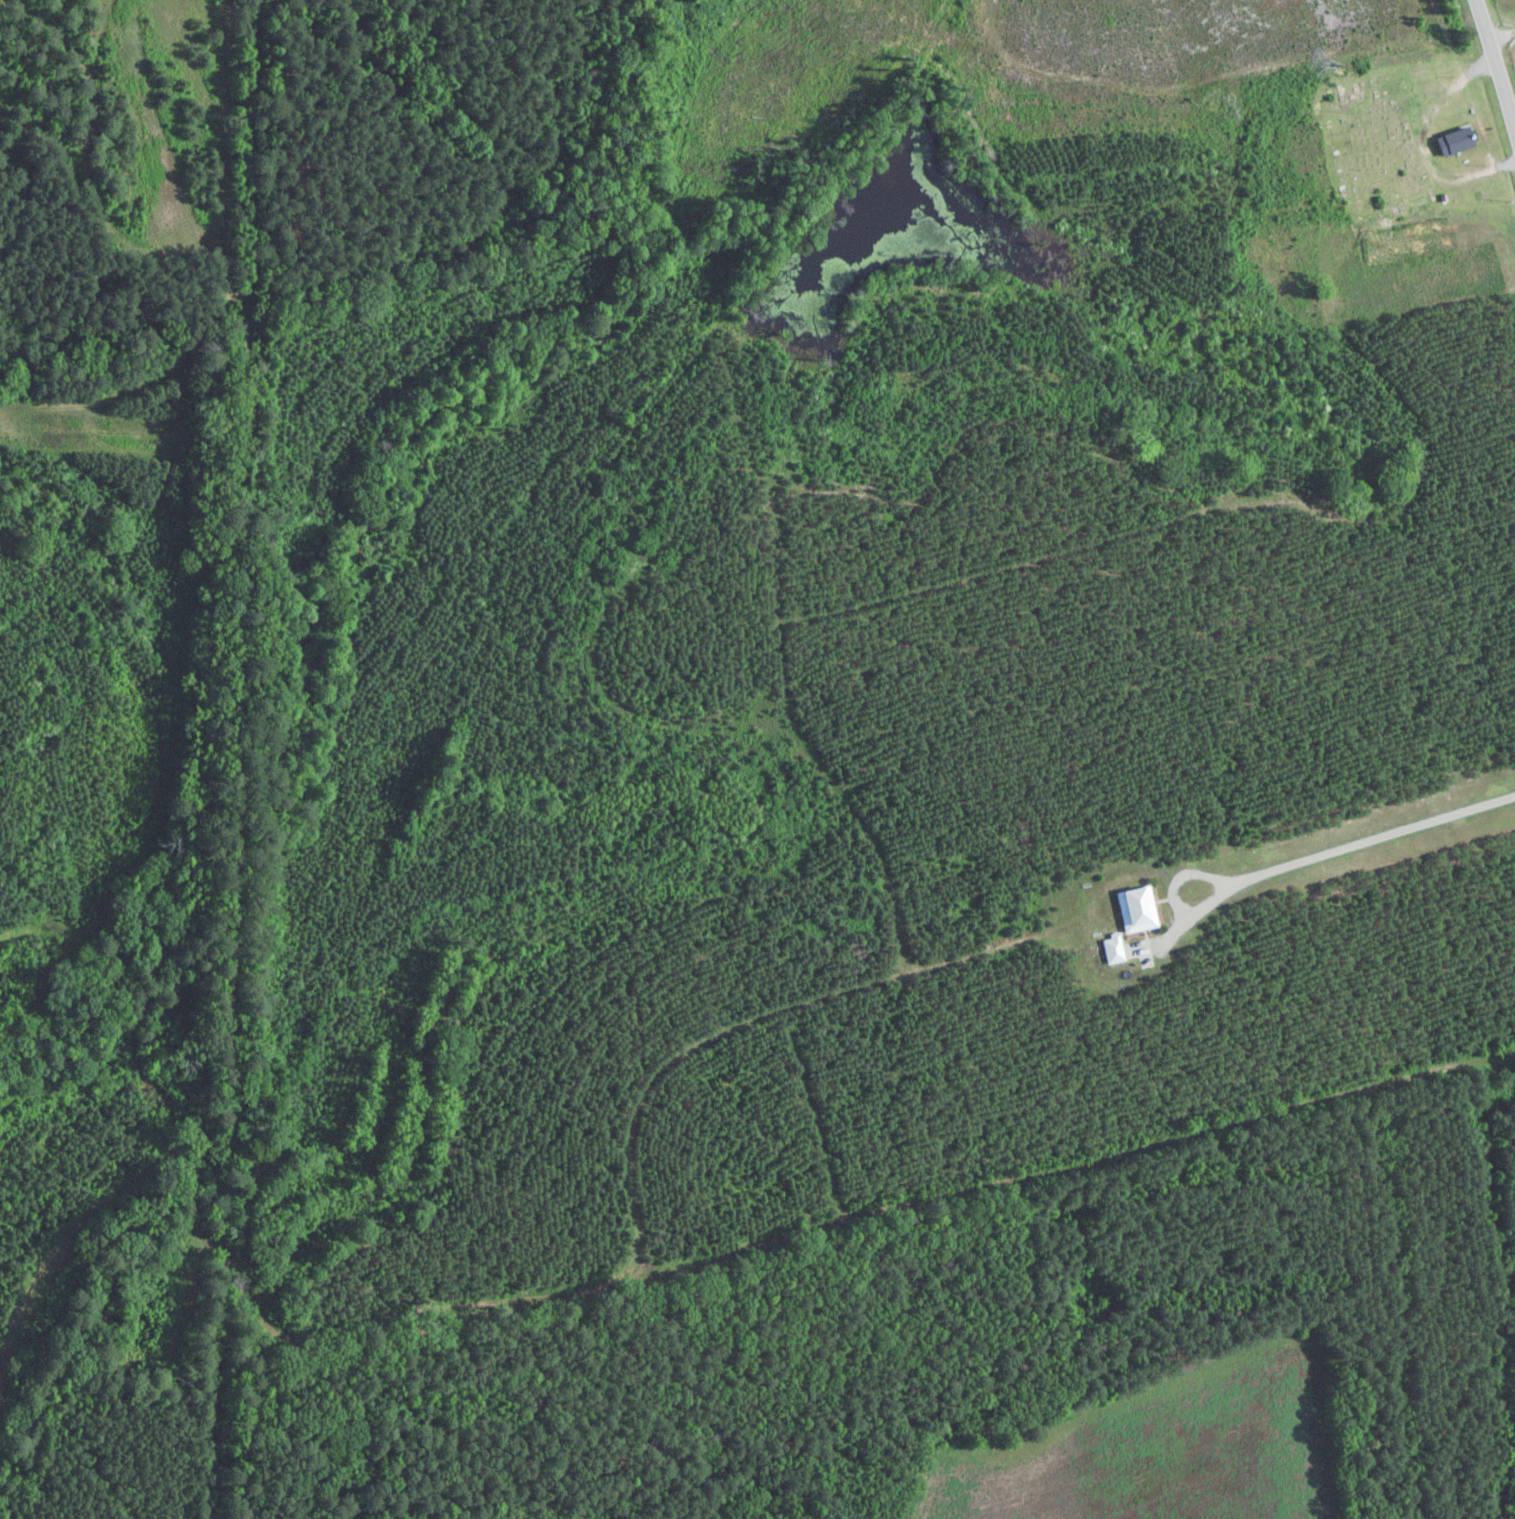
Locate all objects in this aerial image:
road: (1502, 37)
road: (1495, 65)
building: (1454, 143)

